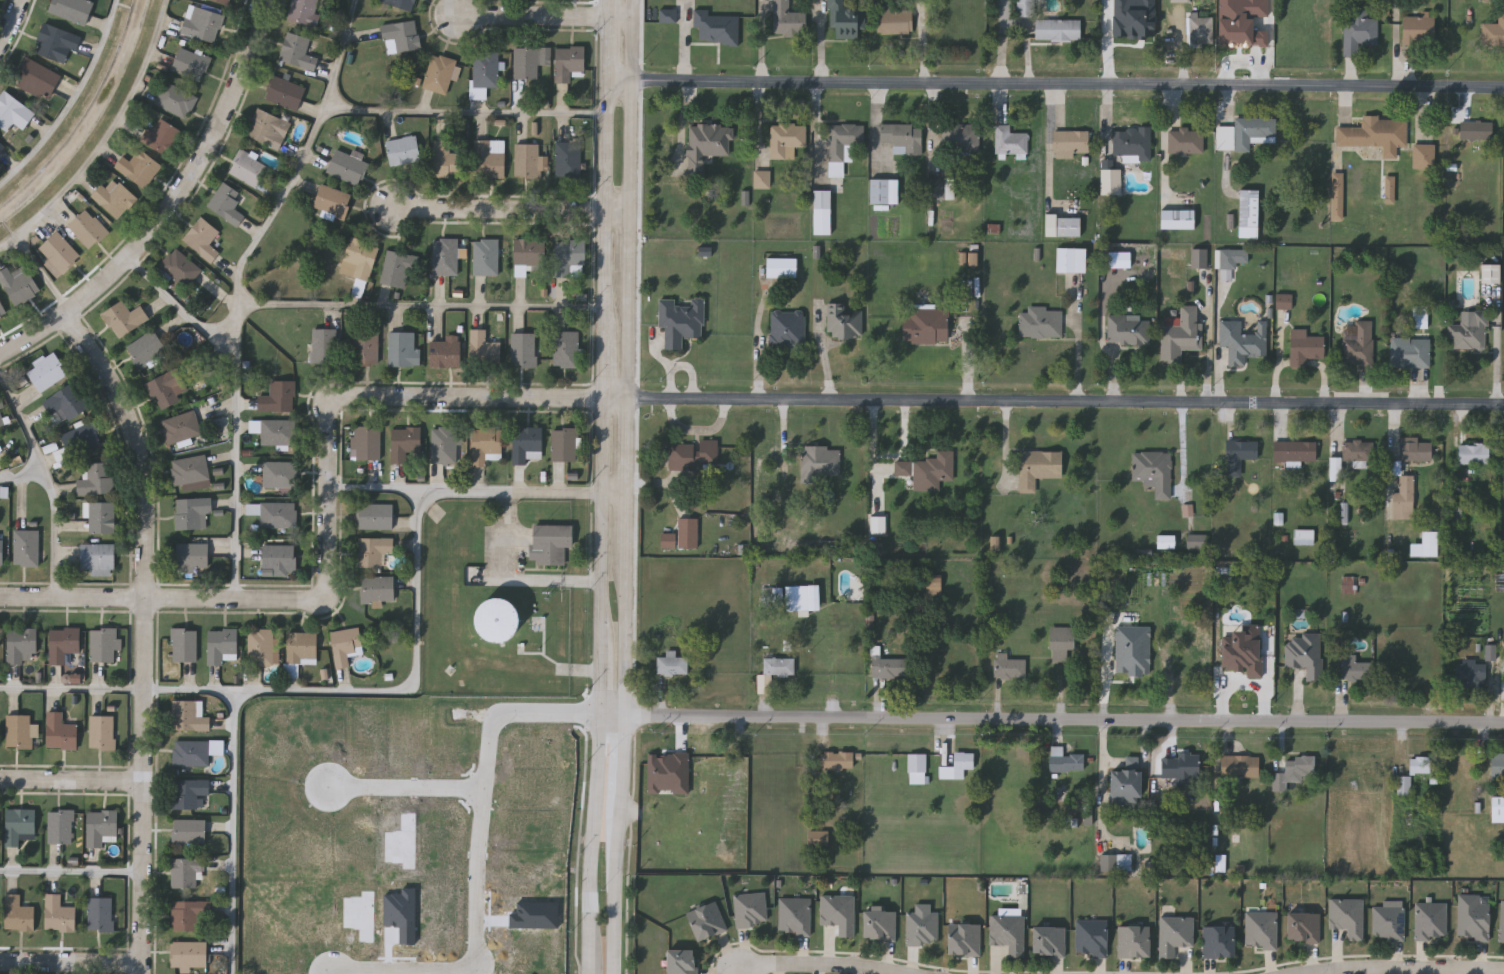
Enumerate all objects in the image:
building: (223, 1)
building: (1180, 1)
building: (400, 3)
building: (1027, 8)
building: (73, 10)
building: (303, 11)
building: (669, 16)
road: (545, 17)
building: (1136, 18)
building: (787, 20)
building: (844, 20)
building: (893, 20)
building: (1243, 22)
building: (202, 23)
road: (12, 24)
building: (715, 27)
building: (1056, 28)
building: (1360, 28)
building: (1200, 30)
building: (1418, 30)
building: (1493, 32)
building: (401, 35)
building: (57, 42)
building: (296, 50)
building: (526, 60)
building: (567, 61)
building: (190, 62)
building: (483, 70)
building: (439, 72)
building: (38, 80)
road: (1055, 82)
building: (284, 91)
building: (175, 99)
road: (71, 100)
building: (13, 111)
road: (465, 113)
building: (268, 128)
building: (1476, 130)
building: (1245, 133)
building: (162, 134)
building: (1375, 134)
building: (788, 135)
building: (902, 137)
building: (960, 137)
building: (843, 140)
building: (1009, 140)
building: (1068, 141)
building: (1185, 141)
building: (1131, 142)
building: (1, 145)
building: (706, 145)
building: (403, 149)
building: (1424, 156)
building: (448, 157)
building: (489, 157)
building: (567, 158)
building: (528, 159)
road: (83, 162)
road: (605, 164)
building: (137, 166)
building: (347, 166)
building: (249, 169)
road: (296, 177)
building: (763, 180)
building: (1111, 181)
building: (1391, 187)
building: (936, 188)
building: (951, 189)
building: (883, 190)
building: (1338, 196)
building: (114, 197)
road: (633, 198)
building: (333, 199)
building: (226, 202)
road: (171, 206)
road: (513, 208)
building: (821, 212)
building: (1248, 212)
building: (1176, 218)
building: (1062, 226)
building: (86, 227)
building: (202, 237)
road: (10, 247)
building: (58, 251)
building: (527, 252)
building: (569, 252)
building: (445, 255)
building: (484, 255)
building: (359, 258)
building: (1199, 258)
building: (1232, 258)
building: (974, 259)
building: (1070, 259)
building: (1120, 260)
building: (179, 266)
building: (780, 267)
building: (396, 268)
building: (1491, 274)
building: (18, 283)
building: (1285, 302)
building: (2, 308)
road: (421, 308)
building: (124, 318)
building: (680, 320)
building: (844, 321)
building: (1040, 322)
building: (1421, 322)
building: (492, 323)
building: (926, 325)
building: (787, 328)
building: (1127, 330)
building: (1468, 332)
building: (1180, 333)
building: (1242, 341)
building: (365, 344)
building: (322, 345)
building: (1358, 346)
building: (1304, 347)
building: (145, 348)
building: (402, 348)
building: (483, 348)
building: (565, 348)
building: (522, 349)
road: (824, 351)
building: (445, 352)
building: (1409, 353)
road: (1080, 358)
road: (604, 363)
road: (681, 365)
building: (46, 369)
building: (163, 388)
building: (278, 395)
road: (1067, 401)
building: (65, 402)
road: (240, 403)
building: (180, 425)
building: (274, 429)
road: (698, 430)
building: (81, 437)
building: (365, 441)
building: (404, 441)
building: (484, 443)
building: (527, 443)
building: (564, 443)
building: (444, 444)
building: (1412, 448)
building: (1294, 451)
building: (693, 452)
building: (1359, 452)
building: (1473, 453)
building: (820, 454)
building: (1238, 455)
building: (1038, 467)
building: (904, 468)
building: (189, 469)
road: (631, 470)
building: (935, 471)
building: (1154, 471)
building: (1334, 471)
building: (279, 473)
road: (23, 475)
building: (94, 477)
road: (49, 481)
road: (380, 488)
road: (617, 494)
building: (1403, 497)
road: (329, 510)
building: (191, 511)
building: (1188, 511)
building: (277, 514)
building: (1456, 514)
building: (374, 515)
building: (101, 516)
building: (879, 525)
building: (682, 534)
building: (1303, 536)
building: (1196, 541)
building: (550, 542)
building: (1167, 542)
building: (997, 543)
building: (1424, 545)
building: (25, 547)
building: (1, 548)
building: (372, 550)
building: (1146, 553)
building: (191, 555)
building: (97, 557)
building: (279, 558)
road: (515, 575)
building: (933, 585)
building: (1348, 585)
building: (377, 588)
building: (773, 597)
building: (801, 598)
building: (497, 618)
road: (142, 633)
building: (63, 642)
building: (1061, 642)
building: (21, 644)
building: (103, 644)
building: (183, 644)
building: (345, 644)
building: (222, 645)
building: (262, 646)
building: (301, 647)
building: (1489, 651)
building: (1305, 653)
building: (672, 663)
building: (1009, 666)
building: (890, 667)
building: (1243, 668)
building: (1353, 668)
building: (1130, 669)
building: (773, 670)
building: (1471, 671)
road: (600, 685)
road: (71, 689)
road: (190, 691)
road: (367, 692)
building: (188, 714)
road: (1051, 718)
building: (18, 729)
building: (60, 730)
building: (101, 730)
building: (190, 751)
road: (623, 759)
building: (837, 759)
building: (1065, 760)
building: (957, 765)
building: (1177, 765)
building: (1239, 765)
building: (1420, 765)
building: (1497, 765)
building: (917, 768)
building: (1293, 770)
building: (669, 774)
road: (73, 781)
building: (1125, 782)
road: (410, 786)
building: (1405, 786)
building: (188, 792)
building: (1167, 801)
building: (1497, 809)
building: (20, 823)
building: (100, 824)
building: (59, 825)
building: (189, 831)
building: (817, 838)
building: (1117, 863)
building: (1221, 863)
road: (483, 866)
road: (73, 870)
building: (184, 870)
building: (751, 909)
building: (17, 912)
building: (100, 912)
building: (58, 913)
building: (839, 913)
building: (187, 914)
building: (362, 915)
building: (795, 916)
building: (1348, 917)
building: (706, 921)
building: (1389, 922)
building: (1431, 922)
building: (1474, 922)
building: (1502, 923)
building: (880, 926)
building: (923, 928)
building: (1304, 928)
building: (1262, 930)
building: (1009, 934)
building: (1175, 935)
building: (1091, 938)
building: (964, 939)
building: (1048, 942)
building: (1134, 942)
building: (1219, 942)
building: (188, 952)
building: (682, 962)
road: (72, 963)
road: (815, 965)
road: (1406, 970)

